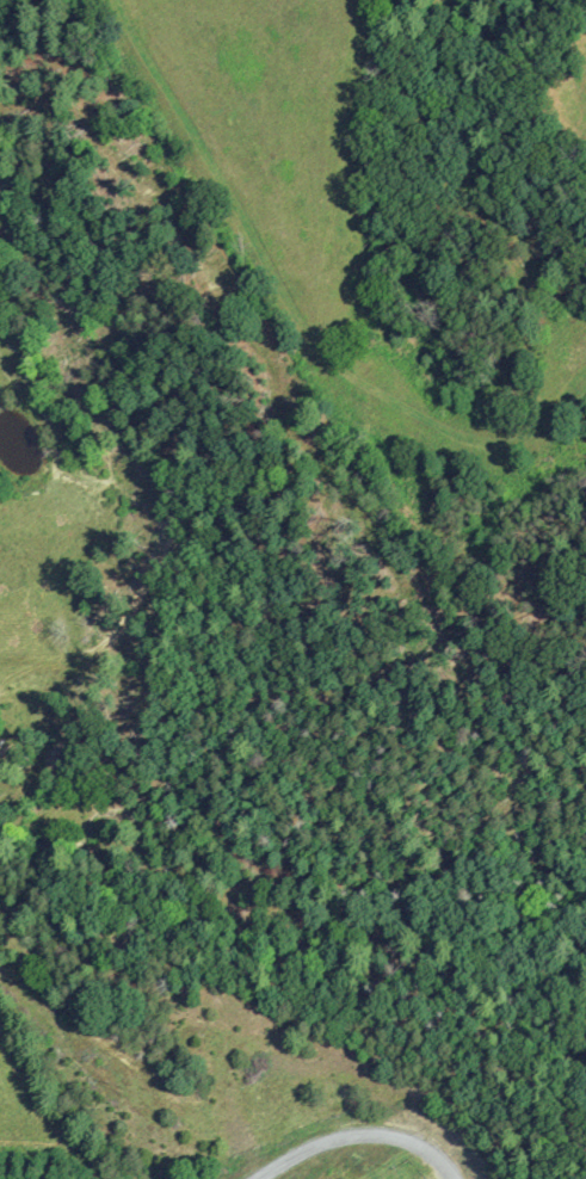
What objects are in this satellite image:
road: (354, 1137)

